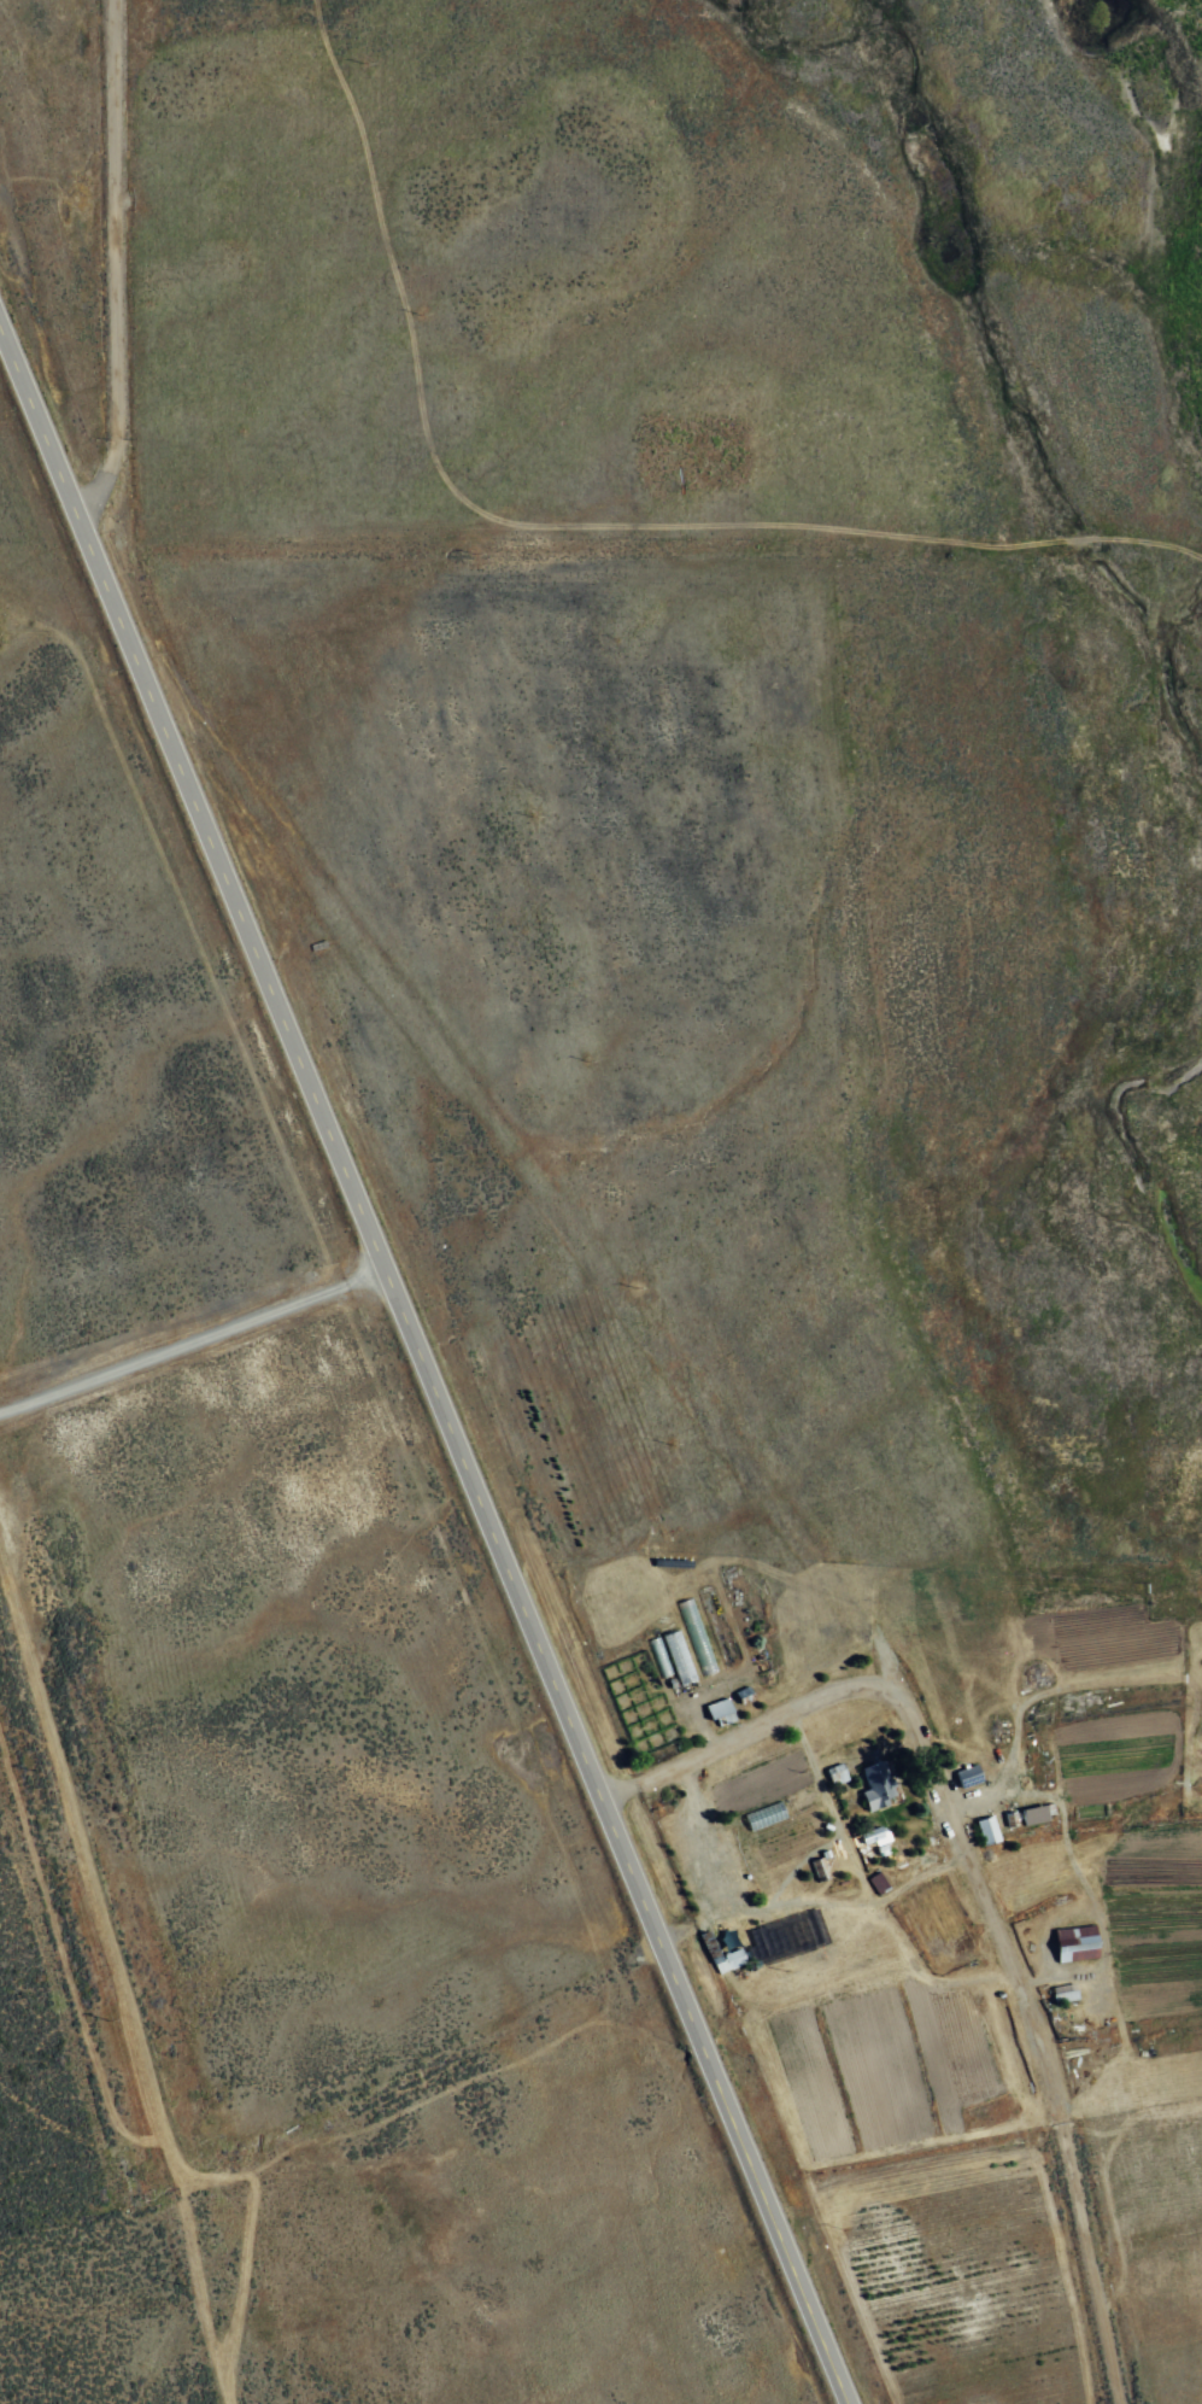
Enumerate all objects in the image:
road: (110, 277)
crop: (732, 370)
road: (415, 1387)
building: (676, 1656)
building: (719, 1712)
crop: (265, 1750)
building: (835, 1773)
building: (876, 1785)
building: (1034, 1813)
building: (986, 1830)
building: (870, 1835)
building: (1074, 1942)
building: (725, 1959)
building: (1063, 1991)

